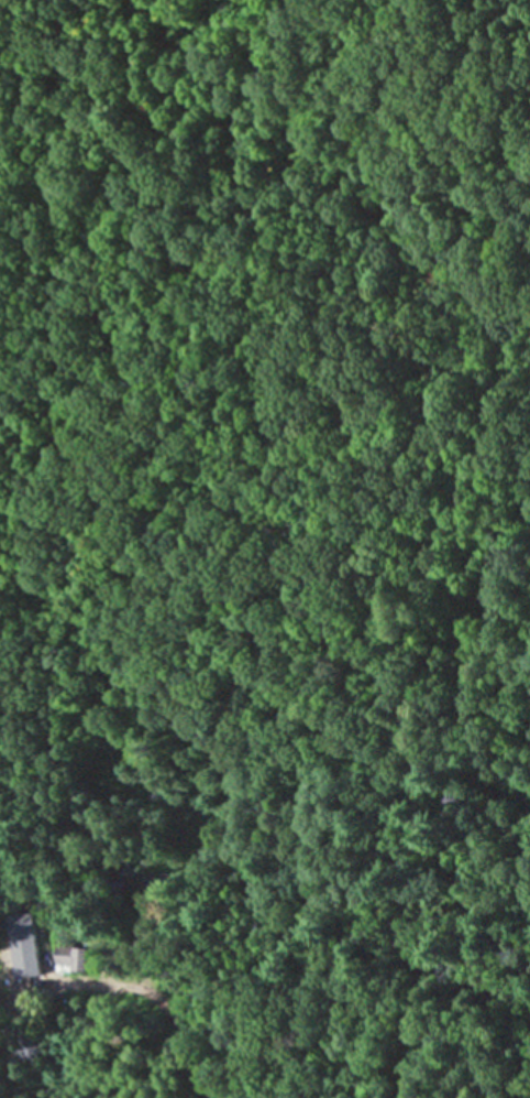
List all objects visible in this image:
building: (67, 955)

